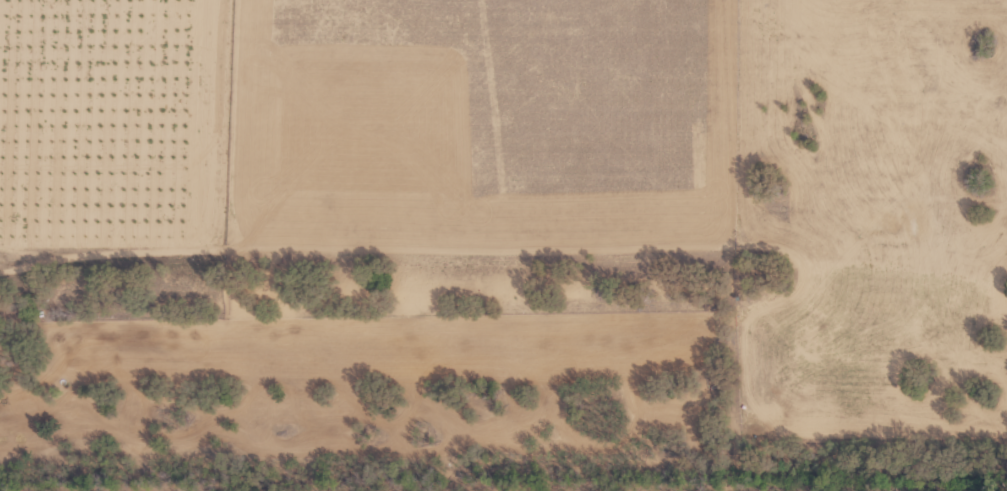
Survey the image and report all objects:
crop: (503, 245)

